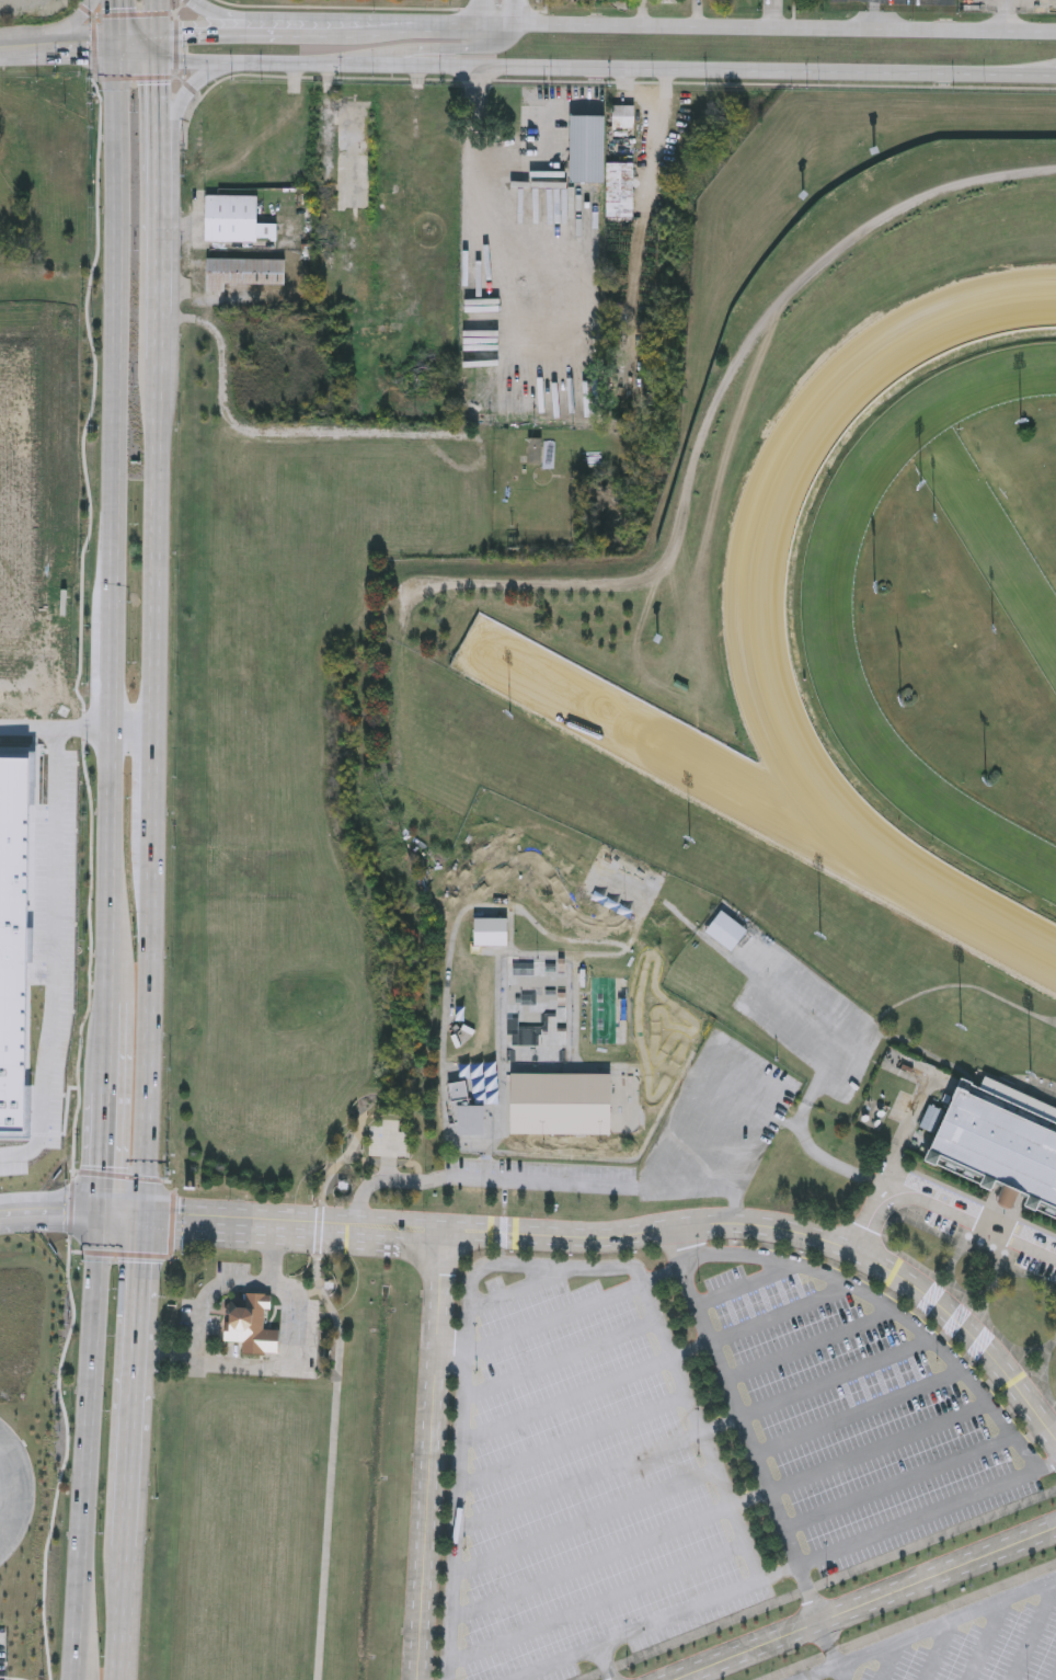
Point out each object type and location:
road: (474, 12)
road: (518, 12)
building: (669, 12)
road: (136, 14)
road: (874, 14)
road: (158, 15)
road: (325, 16)
road: (115, 23)
road: (606, 25)
road: (57, 32)
traffic signals: (158, 32)
road: (137, 38)
road: (177, 44)
traffic signals: (116, 46)
road: (158, 46)
road: (95, 48)
road: (58, 49)
road: (443, 49)
road: (137, 53)
traffic signals: (159, 60)
road: (607, 69)
road: (137, 79)
road: (190, 92)
road: (159, 102)
building: (624, 118)
building: (601, 167)
building: (355, 169)
road: (483, 193)
road: (159, 197)
building: (237, 221)
building: (245, 273)
road: (160, 304)
building: (368, 310)
building: (378, 332)
building: (535, 452)
road: (116, 525)
track: (884, 625)
road: (81, 626)
road: (57, 725)
road: (154, 788)
building: (12, 933)
building: (728, 933)
road: (57, 957)
building: (537, 971)
road: (967, 986)
road: (1046, 1018)
park: (542, 1066)
road: (969, 1073)
building: (478, 1101)
road: (807, 1104)
building: (550, 1107)
road: (108, 1108)
parking lot: (715, 1124)
building: (998, 1143)
road: (823, 1156)
road: (343, 1159)
road: (73, 1170)
road: (120, 1176)
road: (384, 1182)
road: (541, 1182)
road: (703, 1188)
road: (964, 1195)
road: (71, 1207)
road: (50, 1210)
road: (944, 1210)
traffic signals: (102, 1212)
traffic signals: (142, 1219)
road: (230, 1222)
road: (747, 1223)
road: (319, 1230)
road: (884, 1234)
road: (735, 1243)
road: (768, 1246)
road: (70, 1252)
road: (801, 1253)
road: (272, 1256)
road: (159, 1257)
road: (833, 1265)
road: (518, 1266)
parking lot: (1036, 1267)
road: (661, 1275)
parking lot: (725, 1278)
road: (863, 1278)
parking lot: (495, 1284)
road: (745, 1285)
road: (523, 1288)
road: (307, 1293)
road: (208, 1294)
road: (893, 1294)
road: (931, 1298)
parking lot: (762, 1301)
parking lot: (533, 1306)
road: (275, 1311)
road: (919, 1313)
road: (896, 1314)
road: (780, 1315)
road: (553, 1319)
road: (956, 1321)
building: (252, 1326)
parking lot: (796, 1329)
road: (945, 1336)
road: (980, 1344)
road: (810, 1346)
road: (691, 1351)
road: (167, 1356)
road: (560, 1359)
road: (968, 1359)
parking lot: (824, 1362)
road: (290, 1370)
road: (836, 1379)
road: (134, 1383)
road: (990, 1385)
parking lot: (845, 1396)
road: (566, 1402)
road: (858, 1413)
road: (1010, 1413)
road: (739, 1418)
road: (720, 1426)
parking lot: (869, 1430)
road: (1031, 1438)
road: (571, 1441)
road: (89, 1445)
road: (879, 1448)
road: (428, 1455)
road: (332, 1464)
road: (1048, 1464)
road: (65, 1465)
parking lot: (888, 1465)
parking lot: (583, 1478)
road: (577, 1482)
road: (899, 1483)
road: (22, 1493)
parking lot: (909, 1499)
road: (749, 1500)
road: (920, 1517)
road: (584, 1522)
parking lot: (931, 1528)
road: (936, 1540)
road: (590, 1564)
road: (779, 1574)
road: (807, 1591)
road: (865, 1603)
road: (596, 1604)
road: (949, 1607)
road: (120, 1613)
road: (709, 1630)
road: (928, 1630)
road: (638, 1631)
road: (1034, 1632)
road: (987, 1639)
parking lot: (963, 1642)
parking lot: (1008, 1643)
road: (831, 1650)
road: (939, 1650)
parking lot: (1044, 1653)
road: (833, 1654)
parking lot: (960, 1654)
road: (889, 1660)
road: (606, 1664)
parking lot: (910, 1664)
road: (795, 1668)
road: (608, 1669)
parking lot: (868, 1675)
road: (592, 1677)

